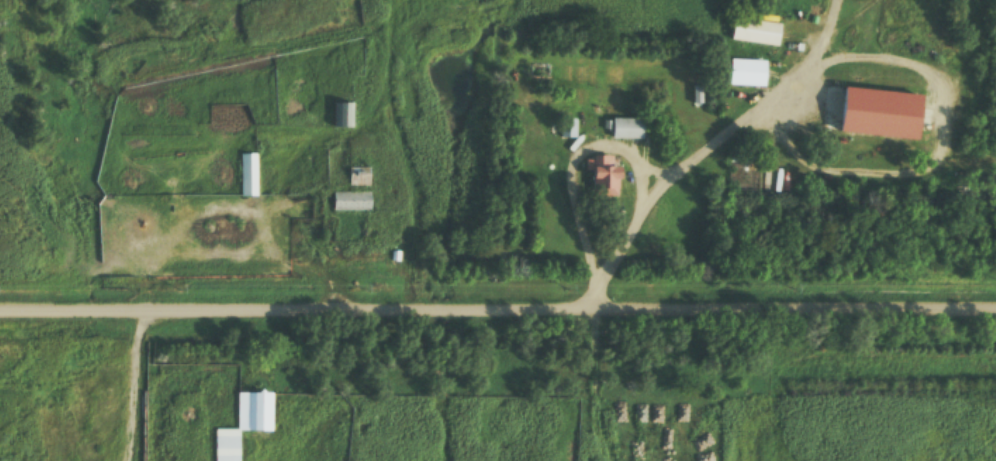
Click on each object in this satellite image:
building: (754, 33)
road: (913, 66)
building: (746, 74)
building: (341, 116)
building: (566, 129)
building: (625, 130)
road: (593, 143)
building: (247, 176)
building: (603, 177)
building: (357, 179)
building: (350, 202)
road: (498, 304)
building: (238, 427)

